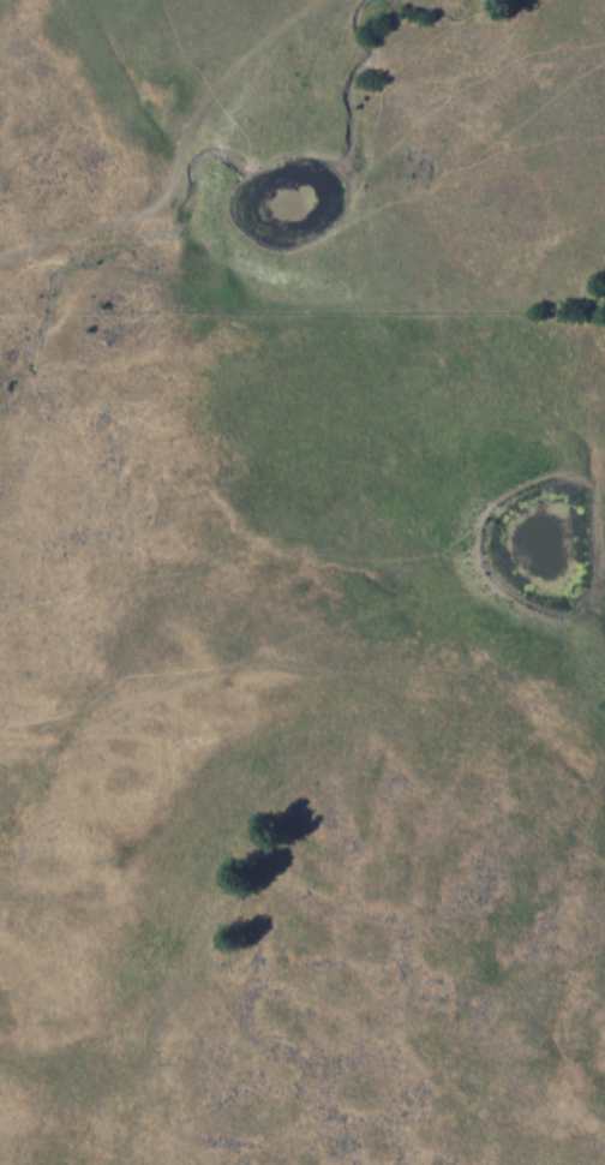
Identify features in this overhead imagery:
road: (302, 634)

